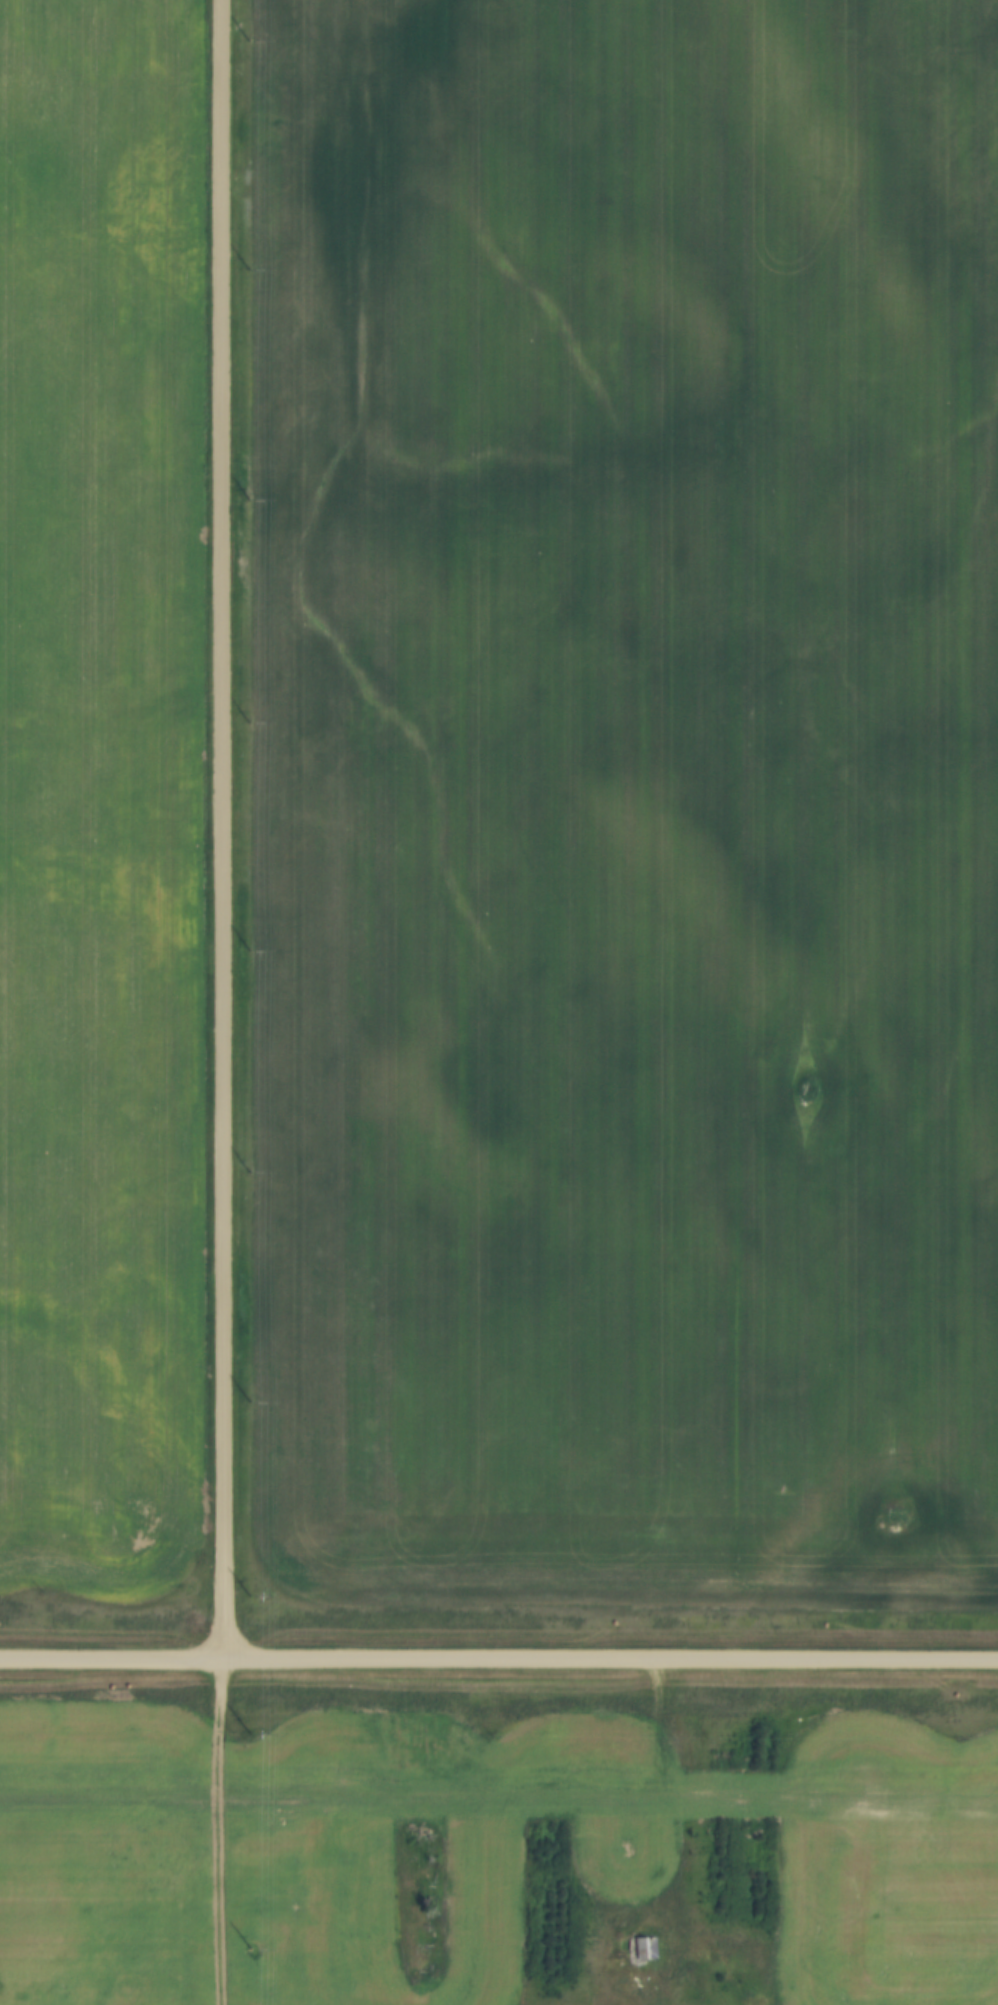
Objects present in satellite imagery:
road: (221, 827)
road: (499, 1655)
road: (214, 1830)
building: (634, 1950)

